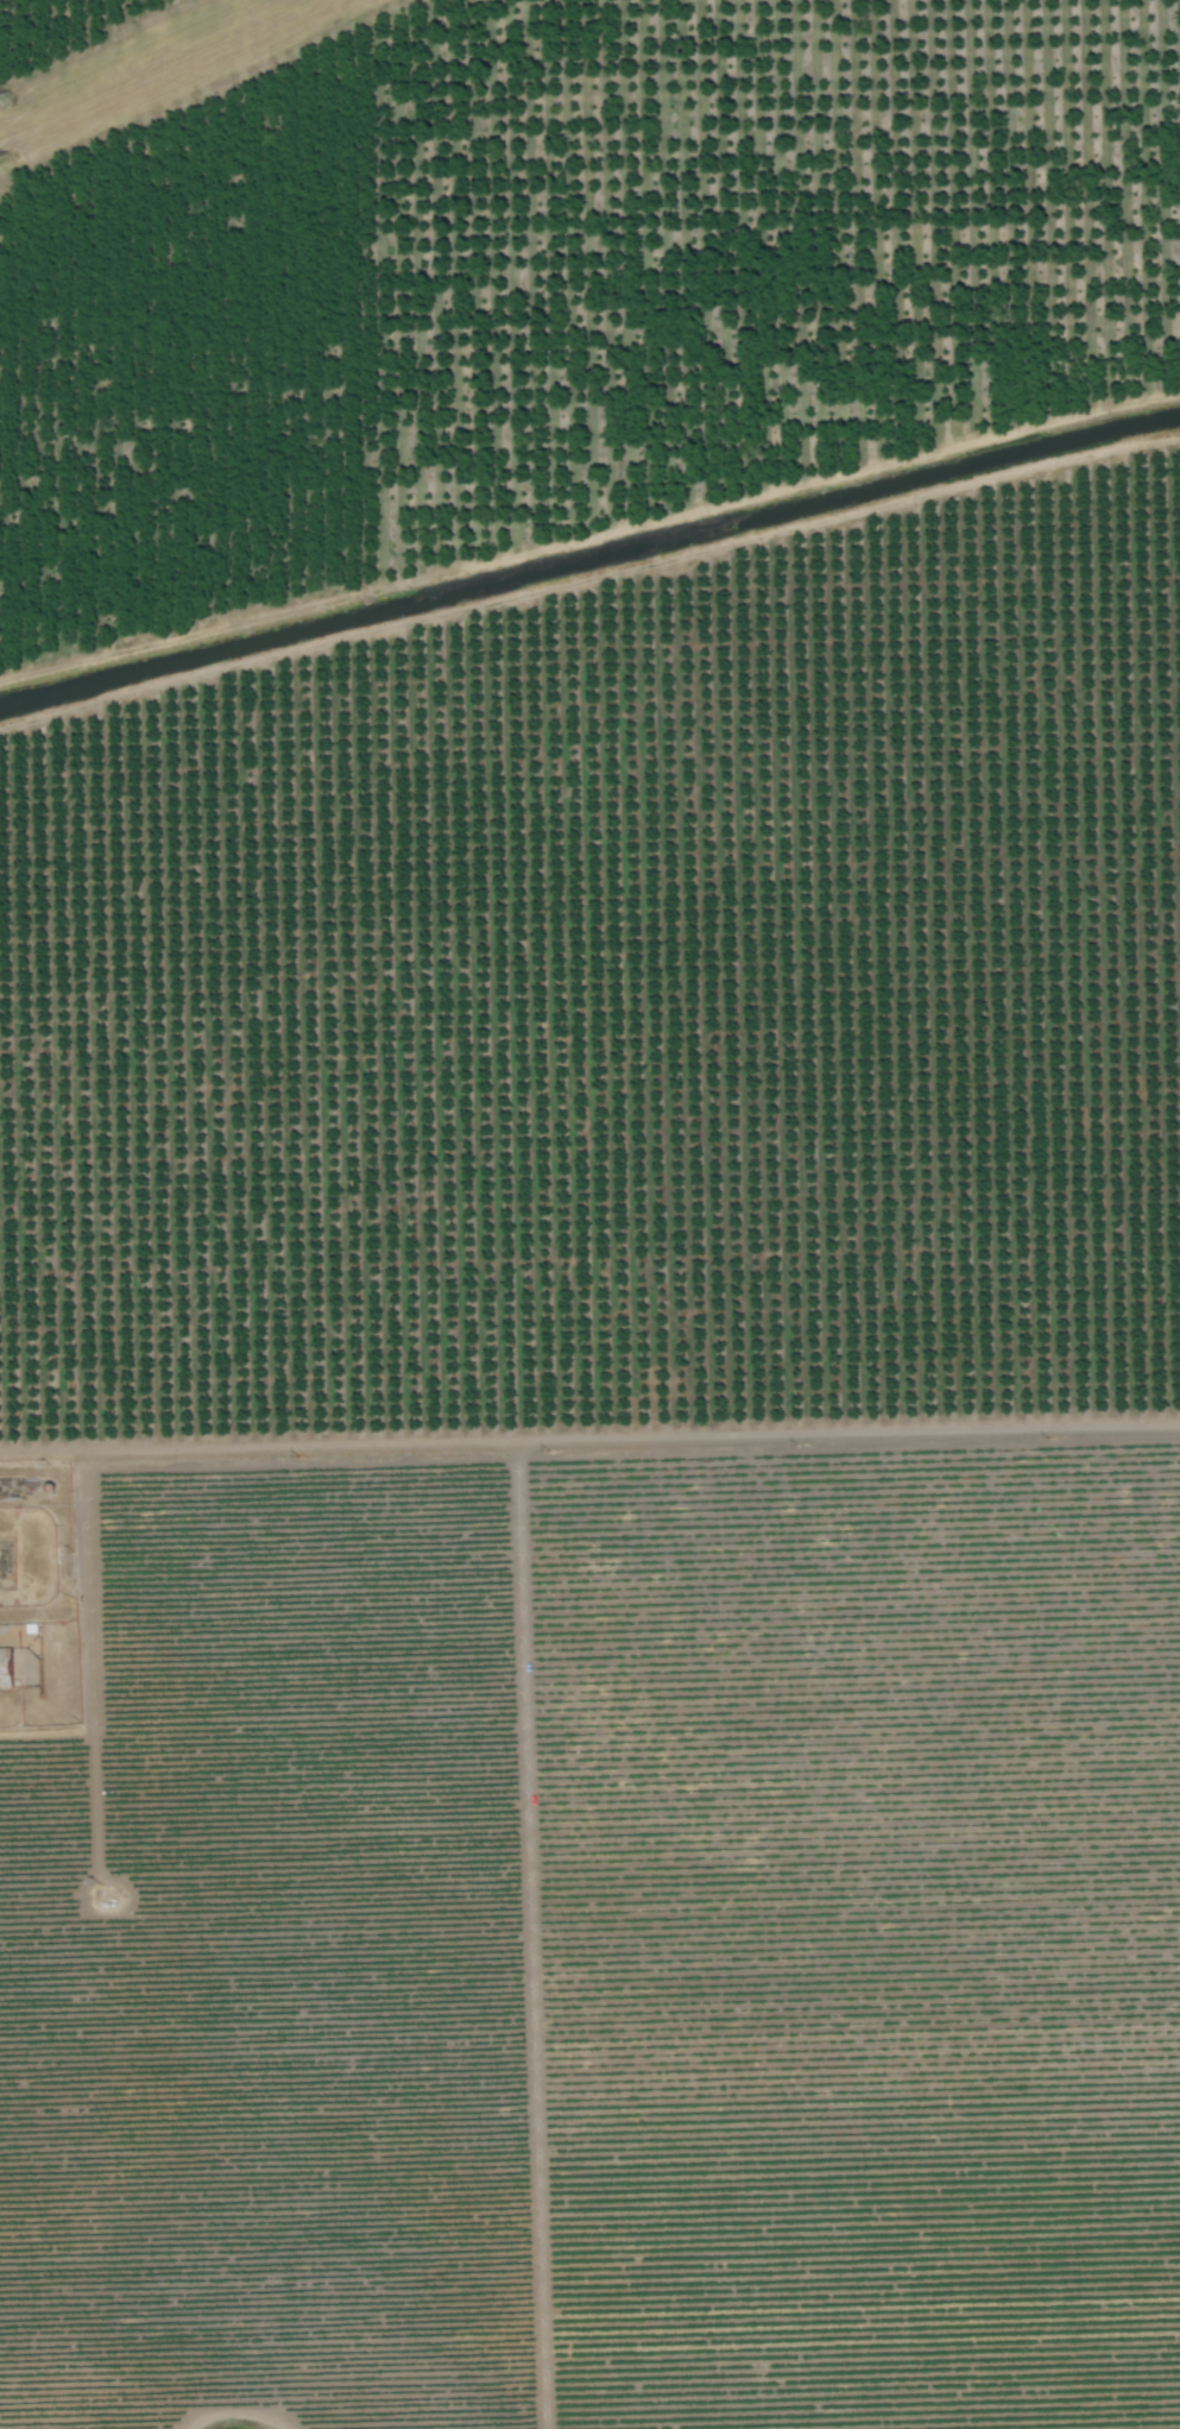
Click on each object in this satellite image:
power tower: (5, 102)
power tower: (4, 165)

